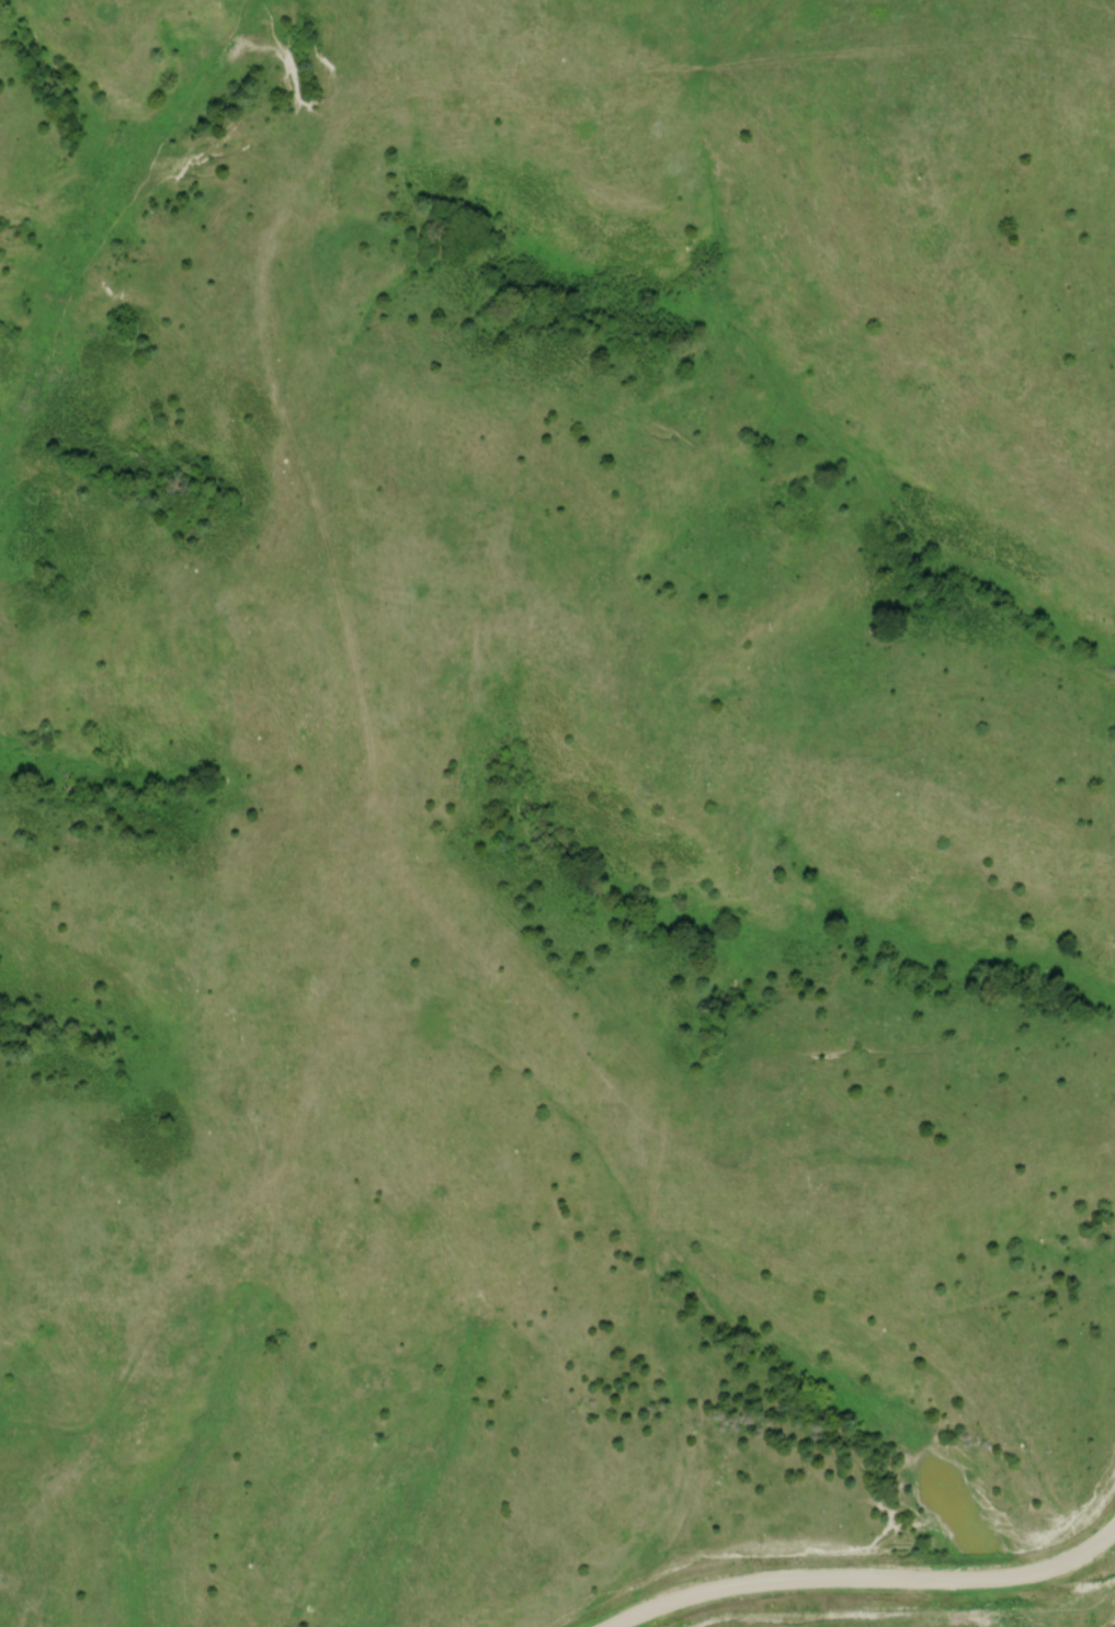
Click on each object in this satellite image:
road: (863, 1575)

